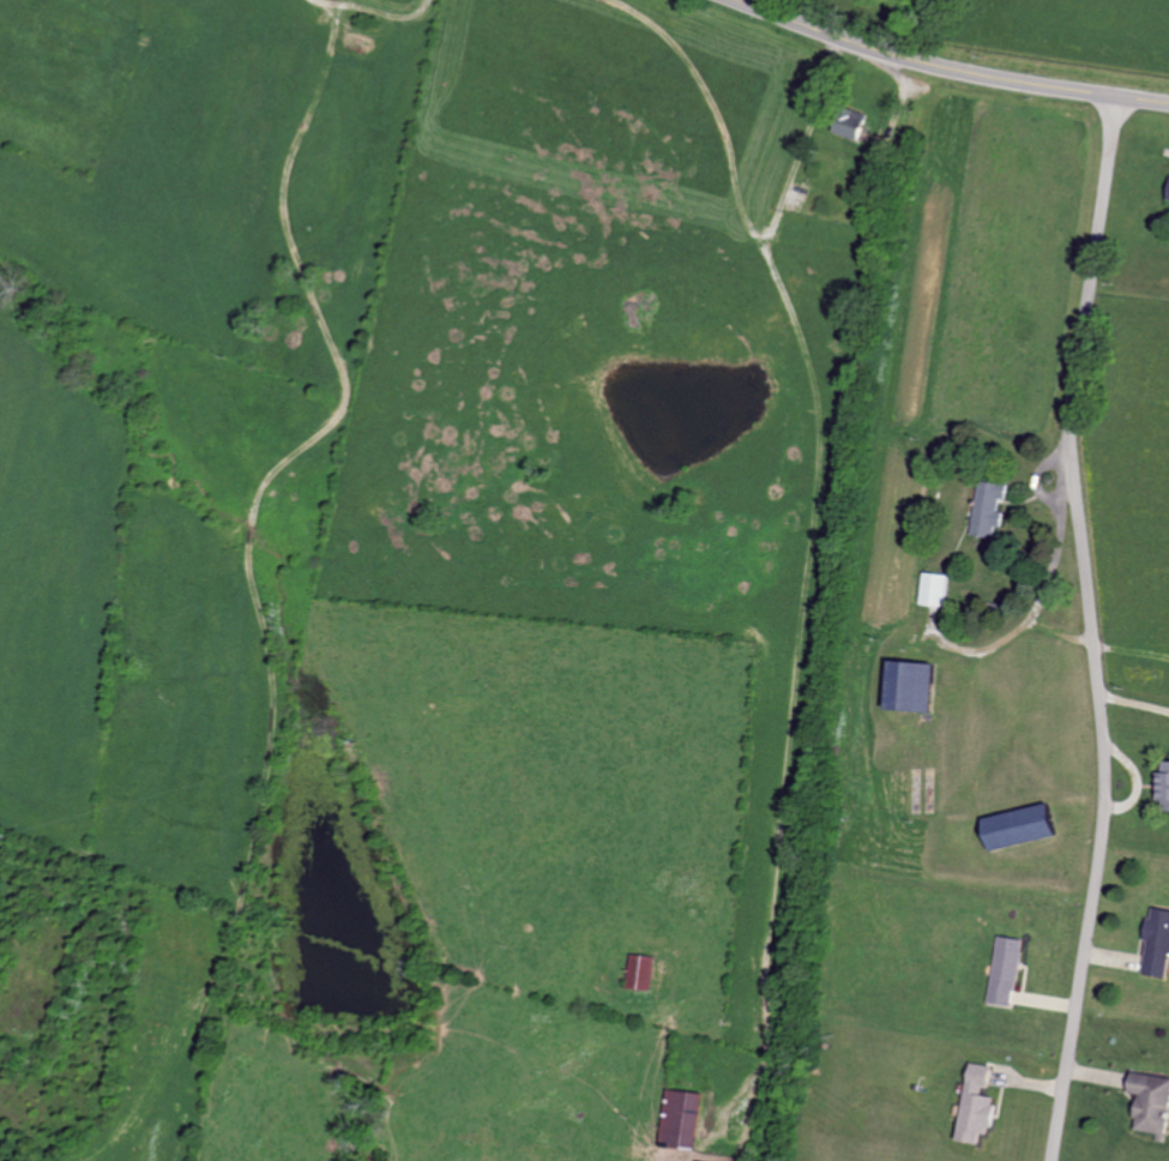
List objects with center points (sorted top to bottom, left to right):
road: (375, 12)
road: (945, 68)
road: (716, 115)
building: (849, 121)
road: (807, 124)
building: (1168, 195)
building: (988, 506)
building: (933, 588)
road: (1090, 628)
building: (911, 685)
building: (1164, 787)
building: (1019, 826)
building: (1157, 944)
building: (1006, 970)
building: (639, 971)
building: (1151, 1102)
building: (975, 1105)
building: (681, 1118)

